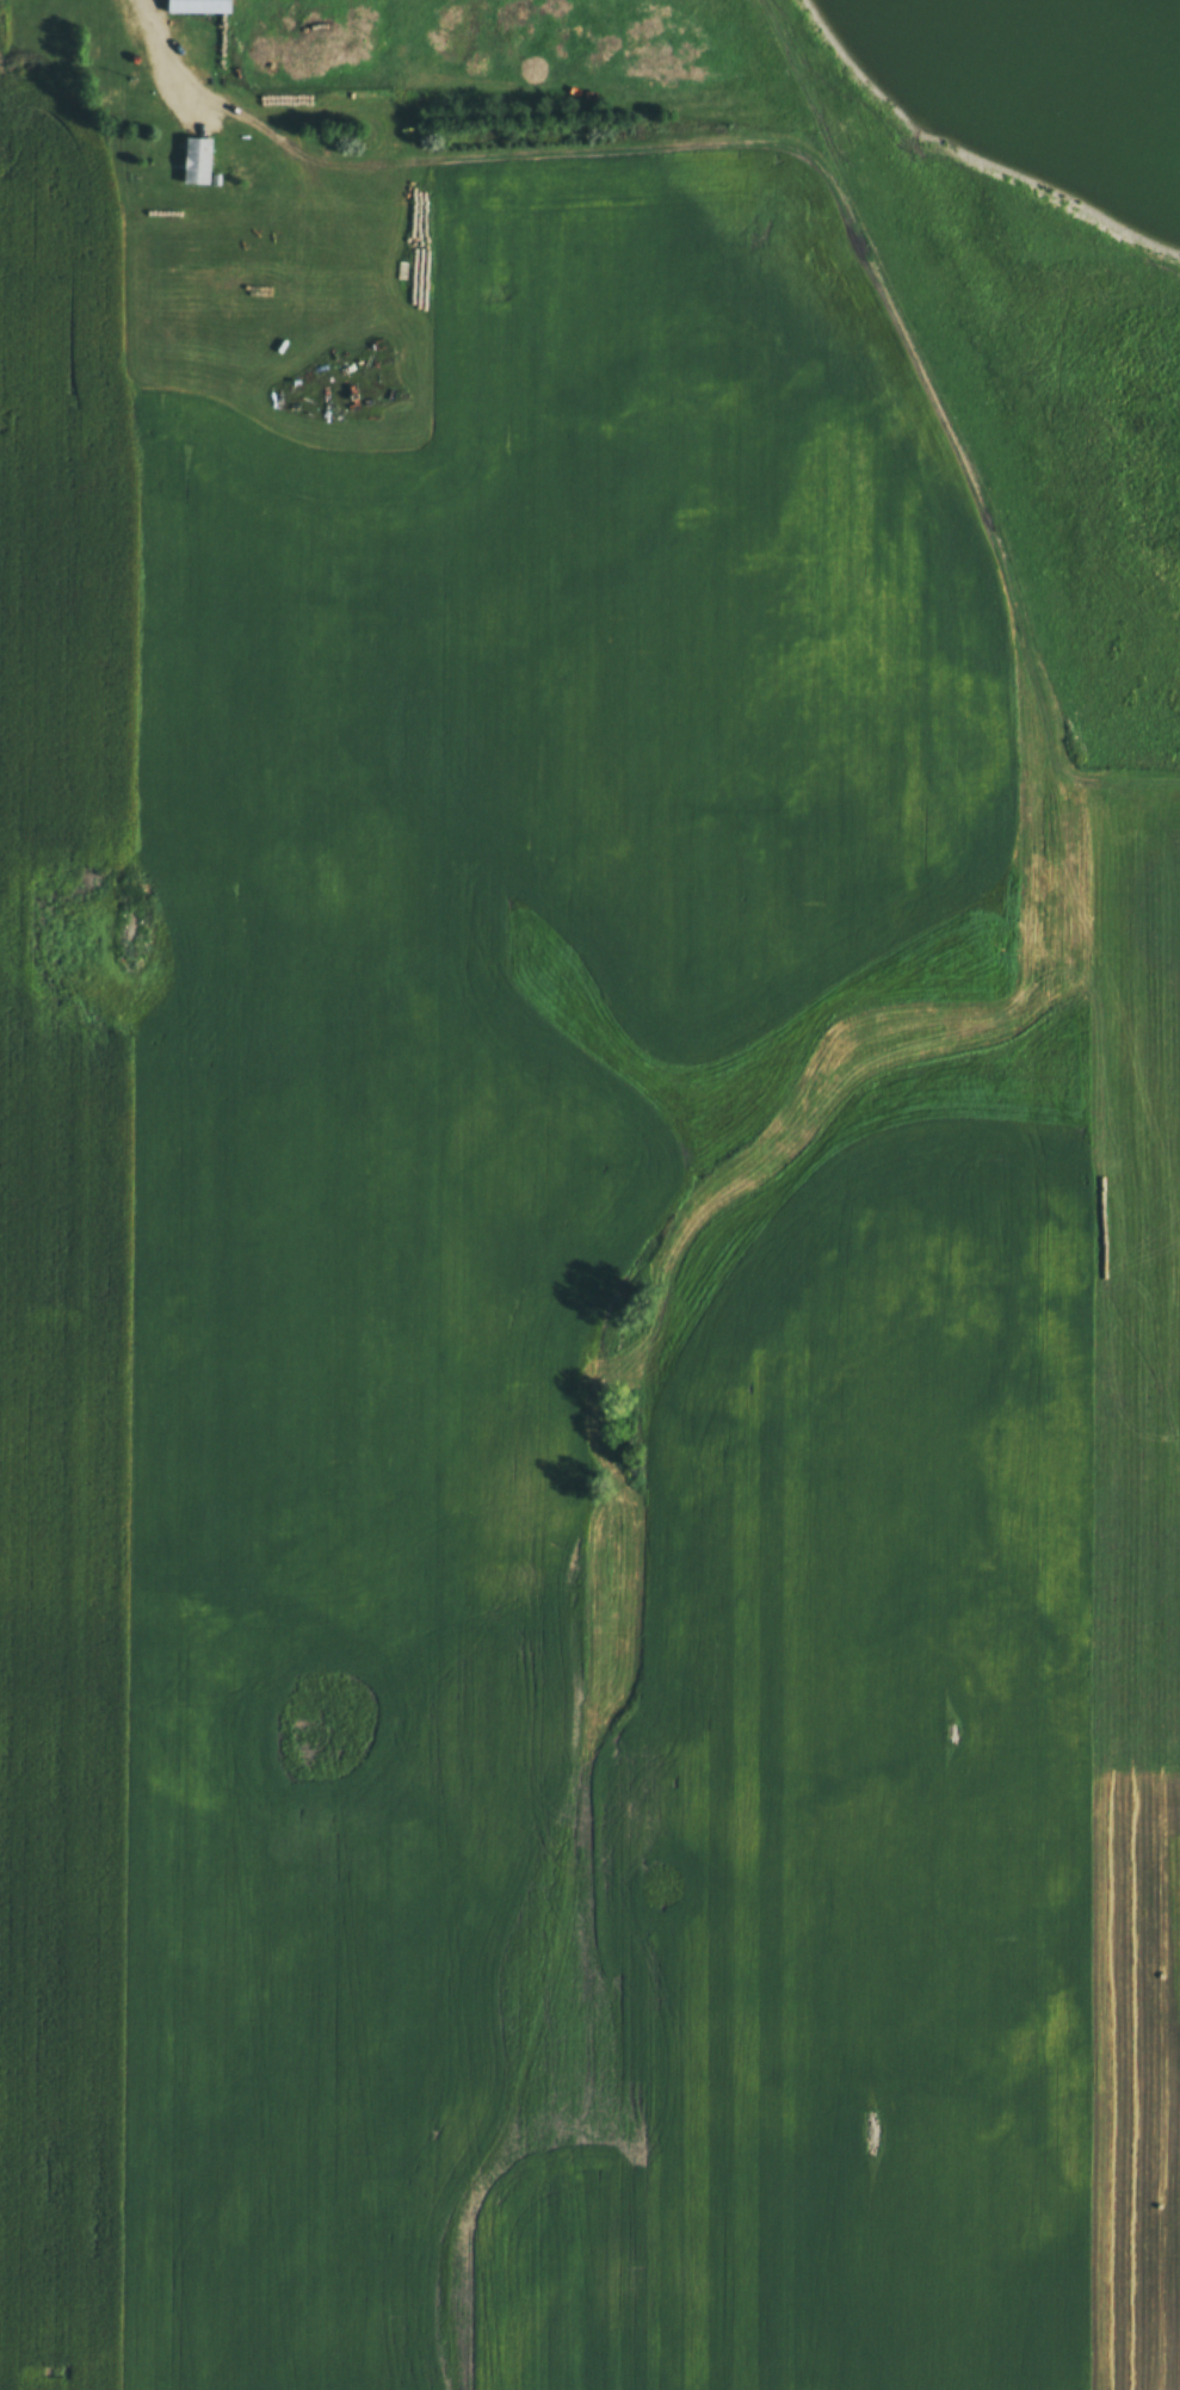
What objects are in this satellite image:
building: (197, 7)
building: (197, 162)
building: (854, 1680)

